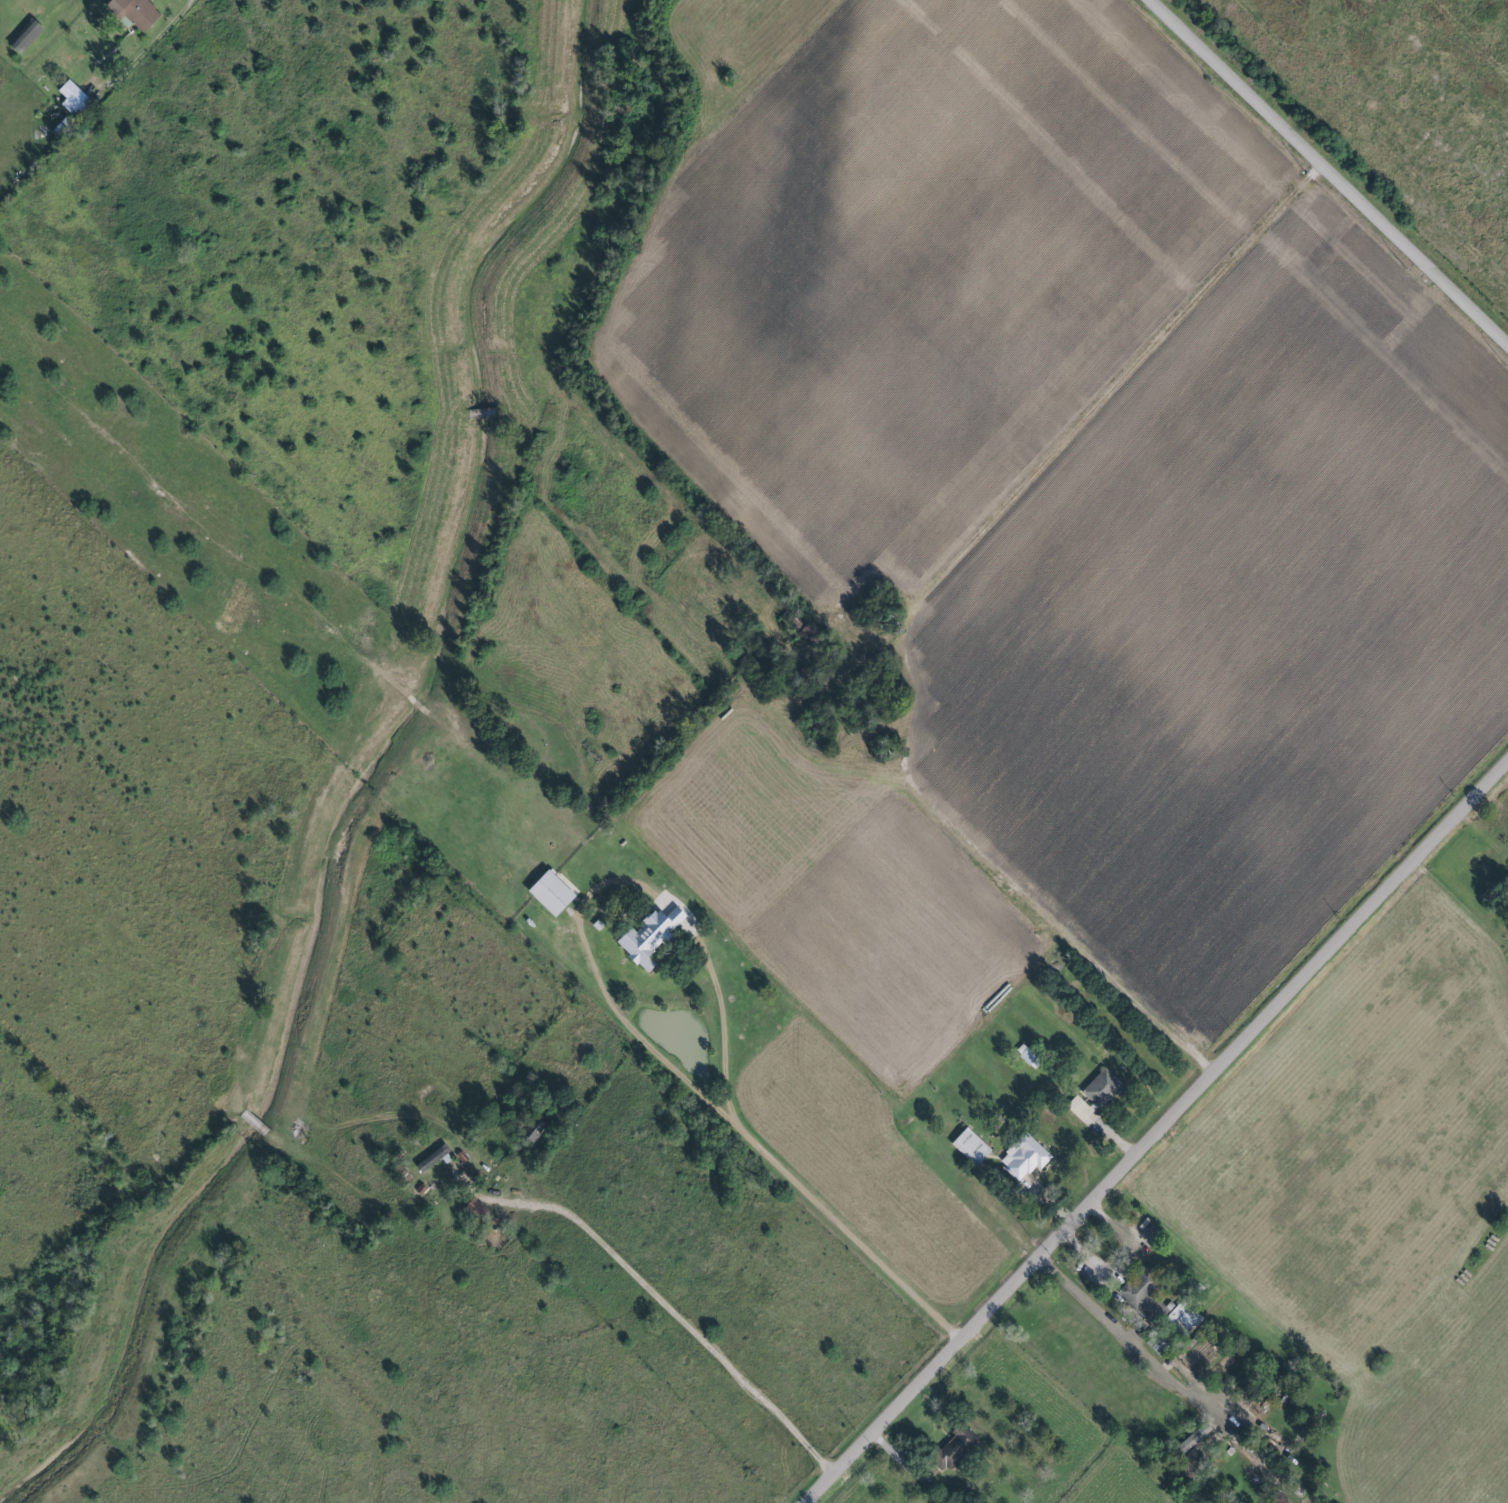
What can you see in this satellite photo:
building: (139, 13)
building: (28, 35)
road: (147, 50)
building: (77, 99)
road: (1328, 172)
road: (1087, 421)
road: (934, 809)
building: (546, 893)
building: (644, 937)
road: (711, 974)
building: (1022, 1054)
building: (1098, 1089)
building: (1076, 1109)
road: (1156, 1131)
building: (968, 1147)
building: (1020, 1158)
road: (1128, 1263)
building: (1155, 1304)
road: (678, 1312)
road: (1134, 1335)
building: (1188, 1440)
building: (951, 1450)
building: (1276, 1500)

